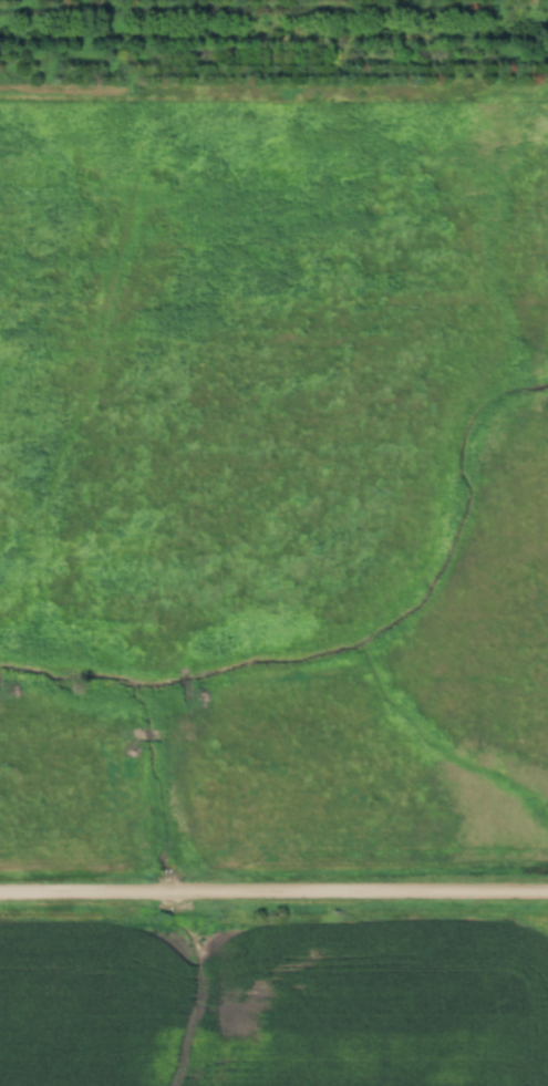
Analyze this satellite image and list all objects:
road: (273, 897)

